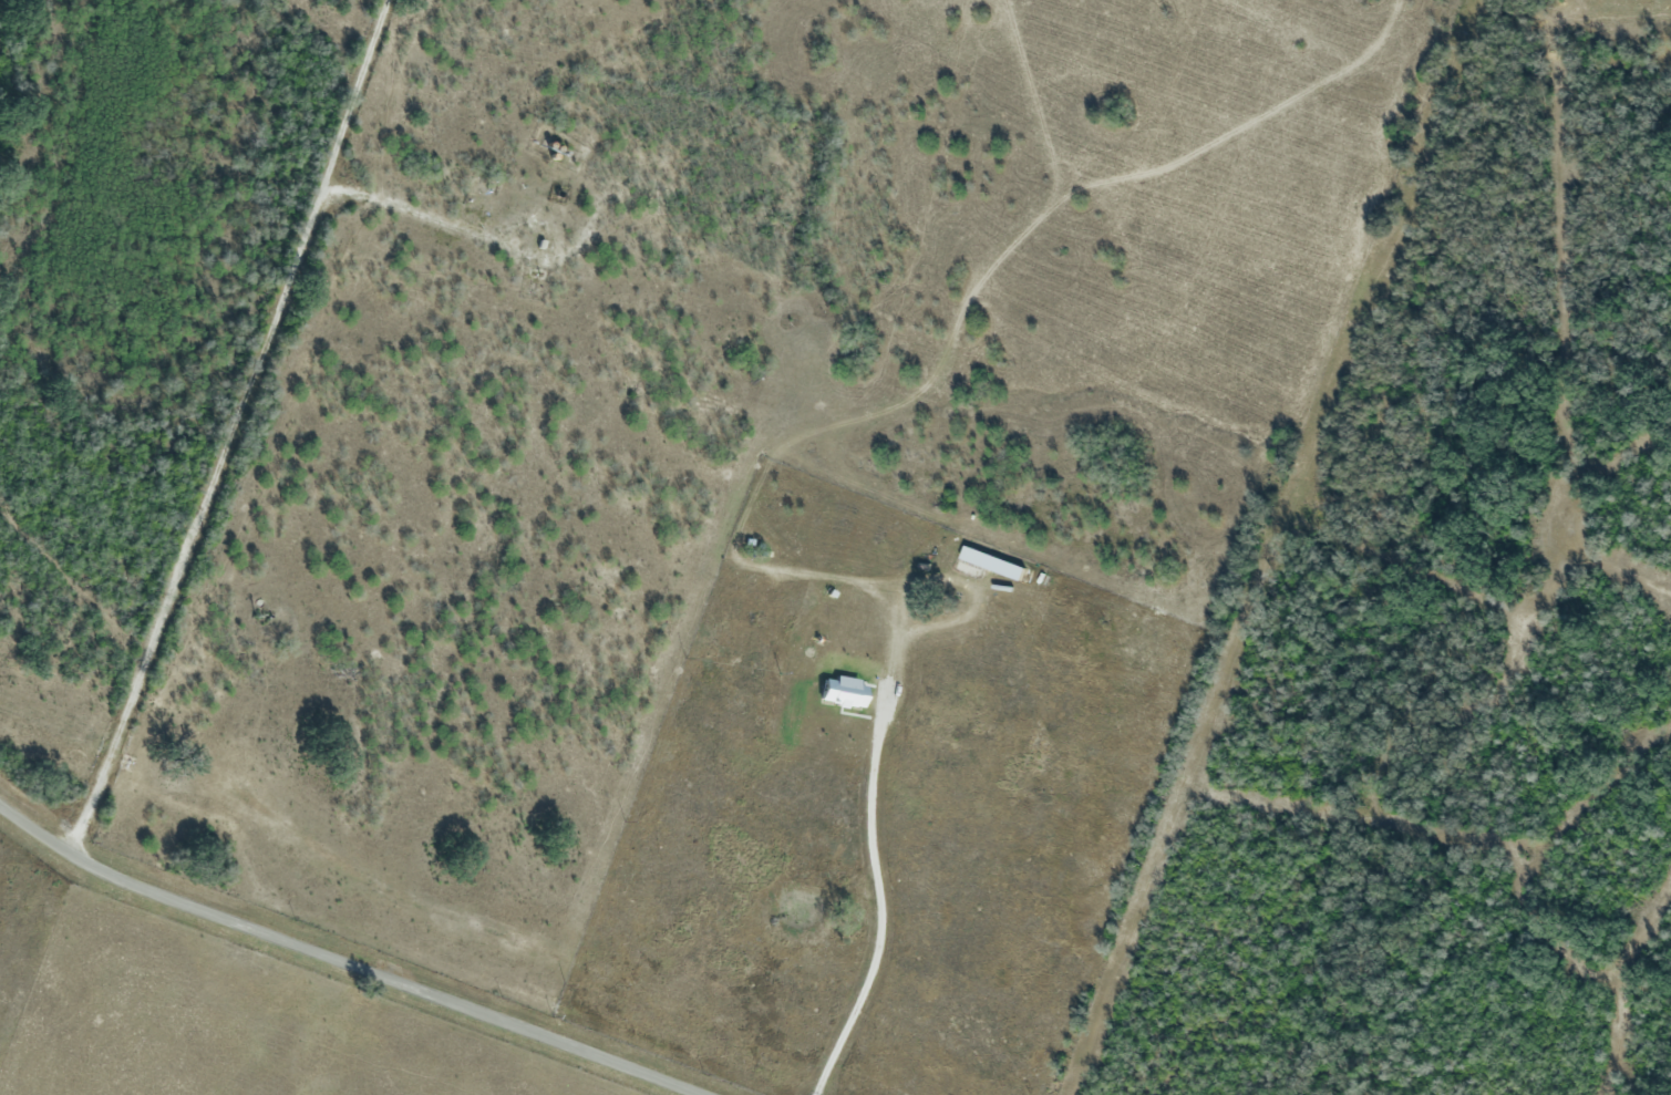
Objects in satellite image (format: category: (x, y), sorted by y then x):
road: (226, 426)
road: (32, 830)
road: (377, 975)

